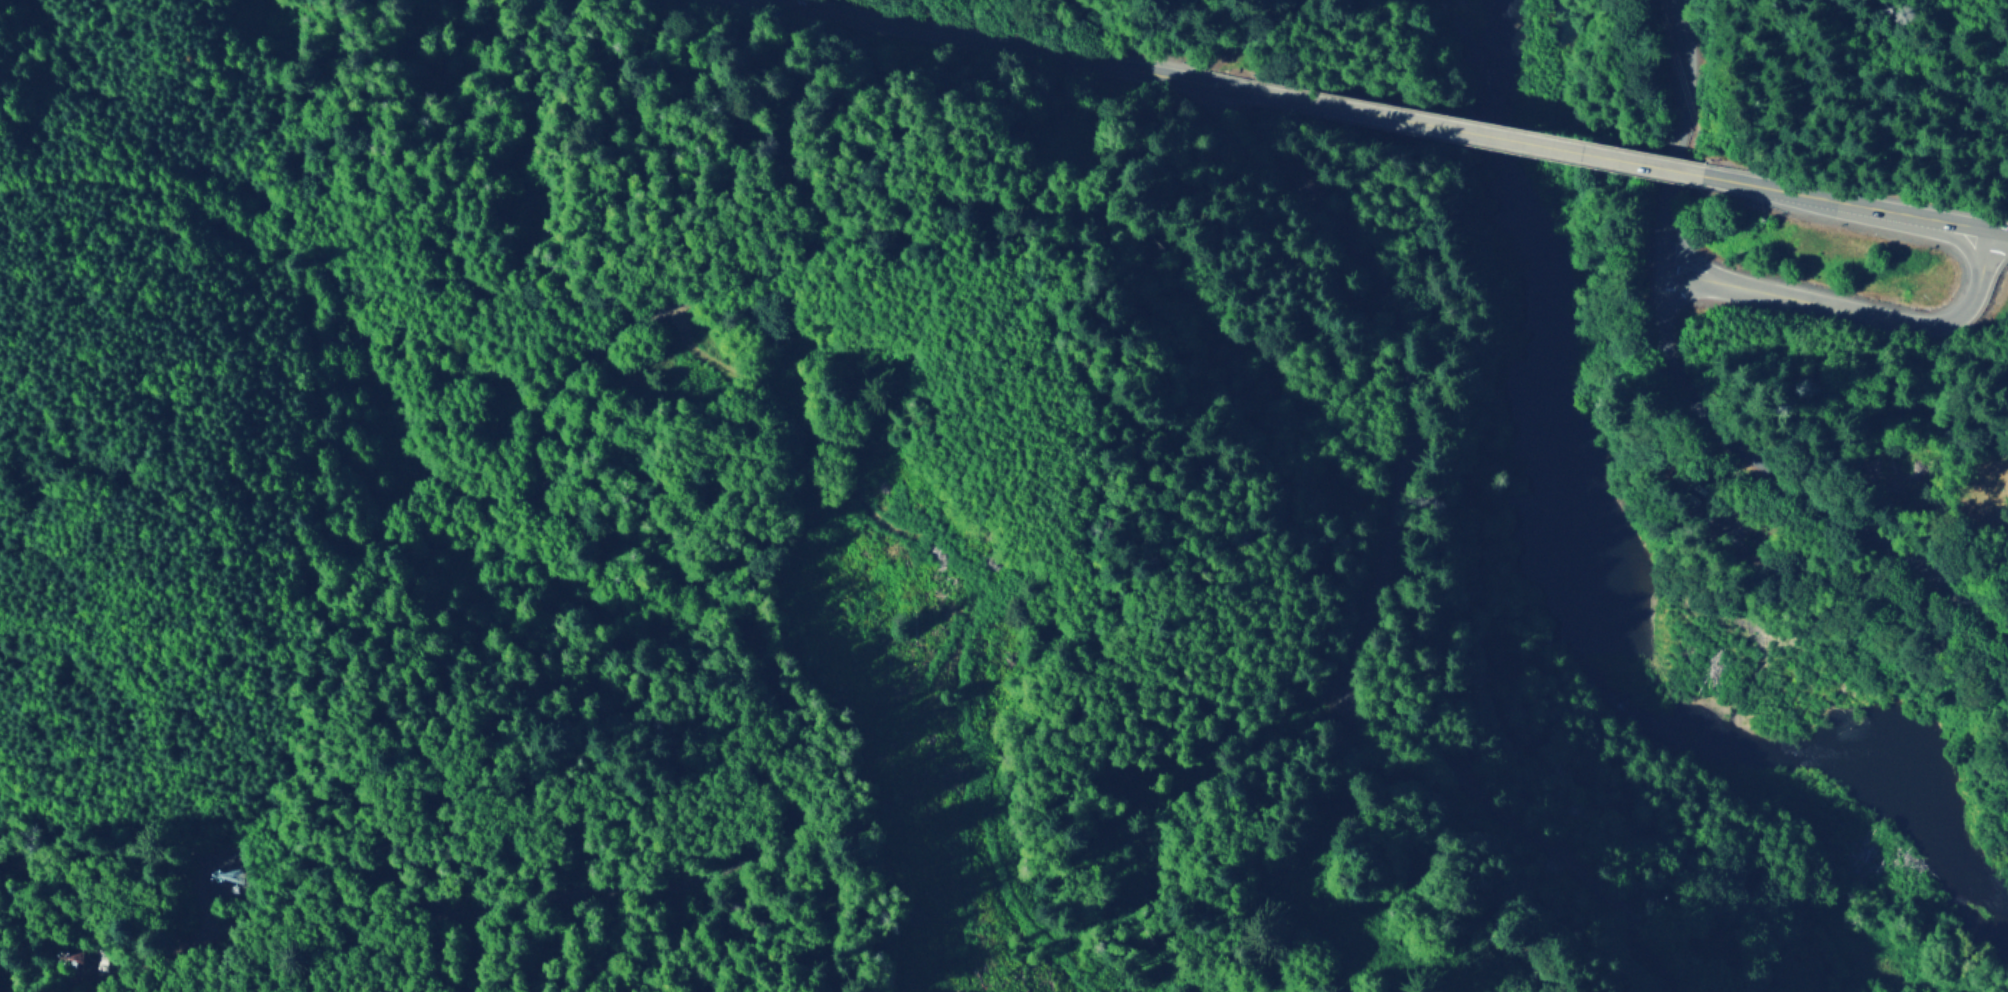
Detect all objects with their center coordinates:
road: (1039, 43)
road: (1693, 96)
road: (1487, 132)
road: (1826, 197)
road: (1973, 225)
road: (2002, 230)
road: (1671, 232)
road: (1976, 249)
road: (1696, 250)
road: (1990, 260)
road: (1708, 280)
road: (1871, 312)
road: (1779, 489)
river: (1610, 539)
road: (1368, 593)

